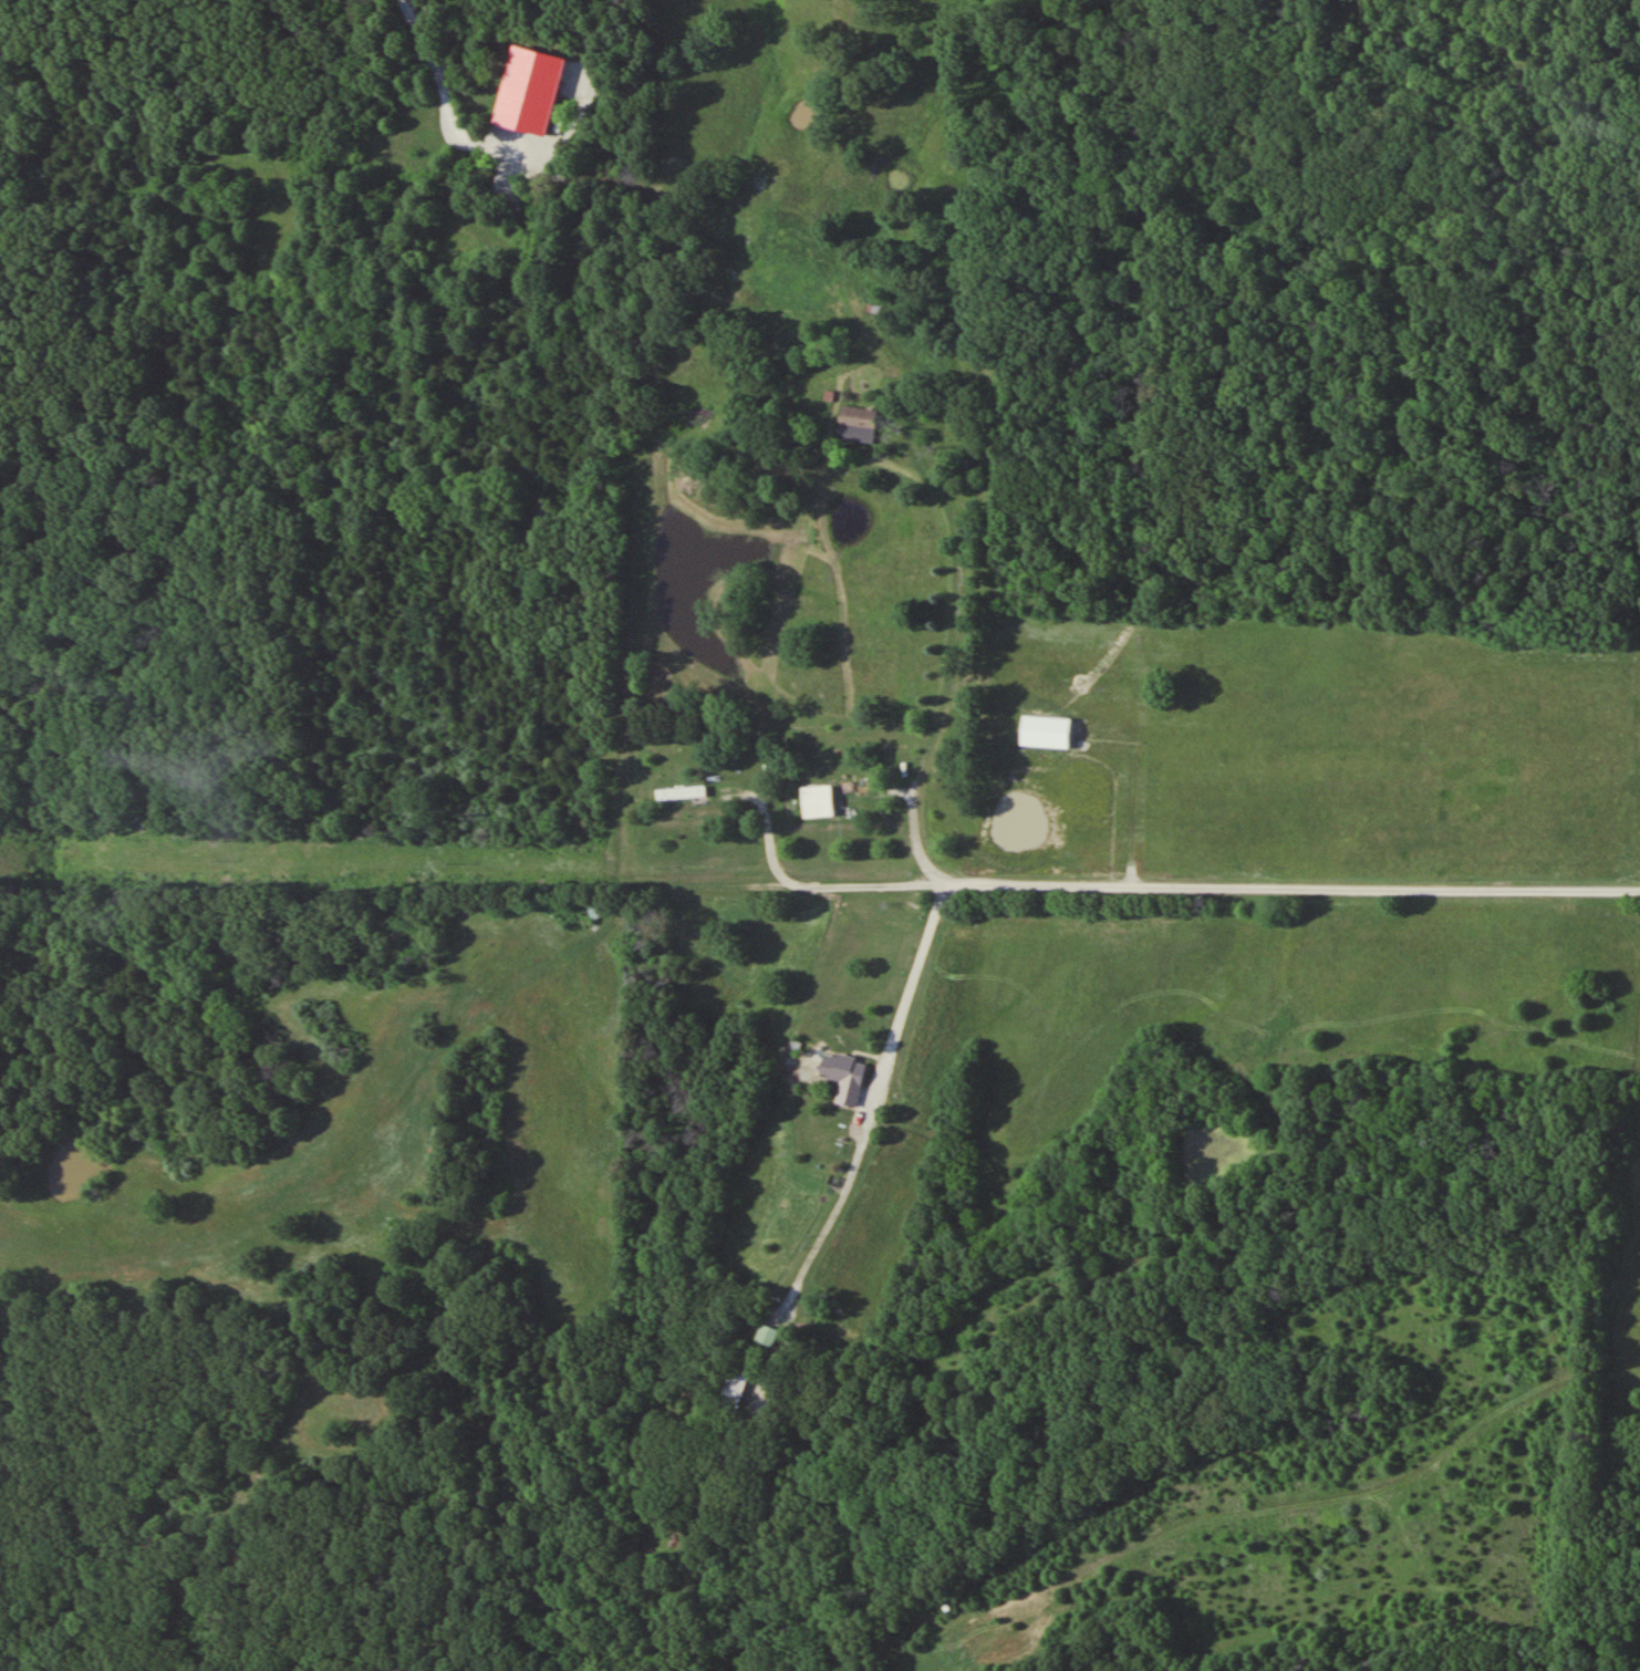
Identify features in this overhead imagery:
building: (858, 423)
building: (681, 792)
building: (818, 800)
road: (1058, 885)
building: (594, 909)
building: (844, 1077)
building: (767, 1335)
building: (735, 1385)

